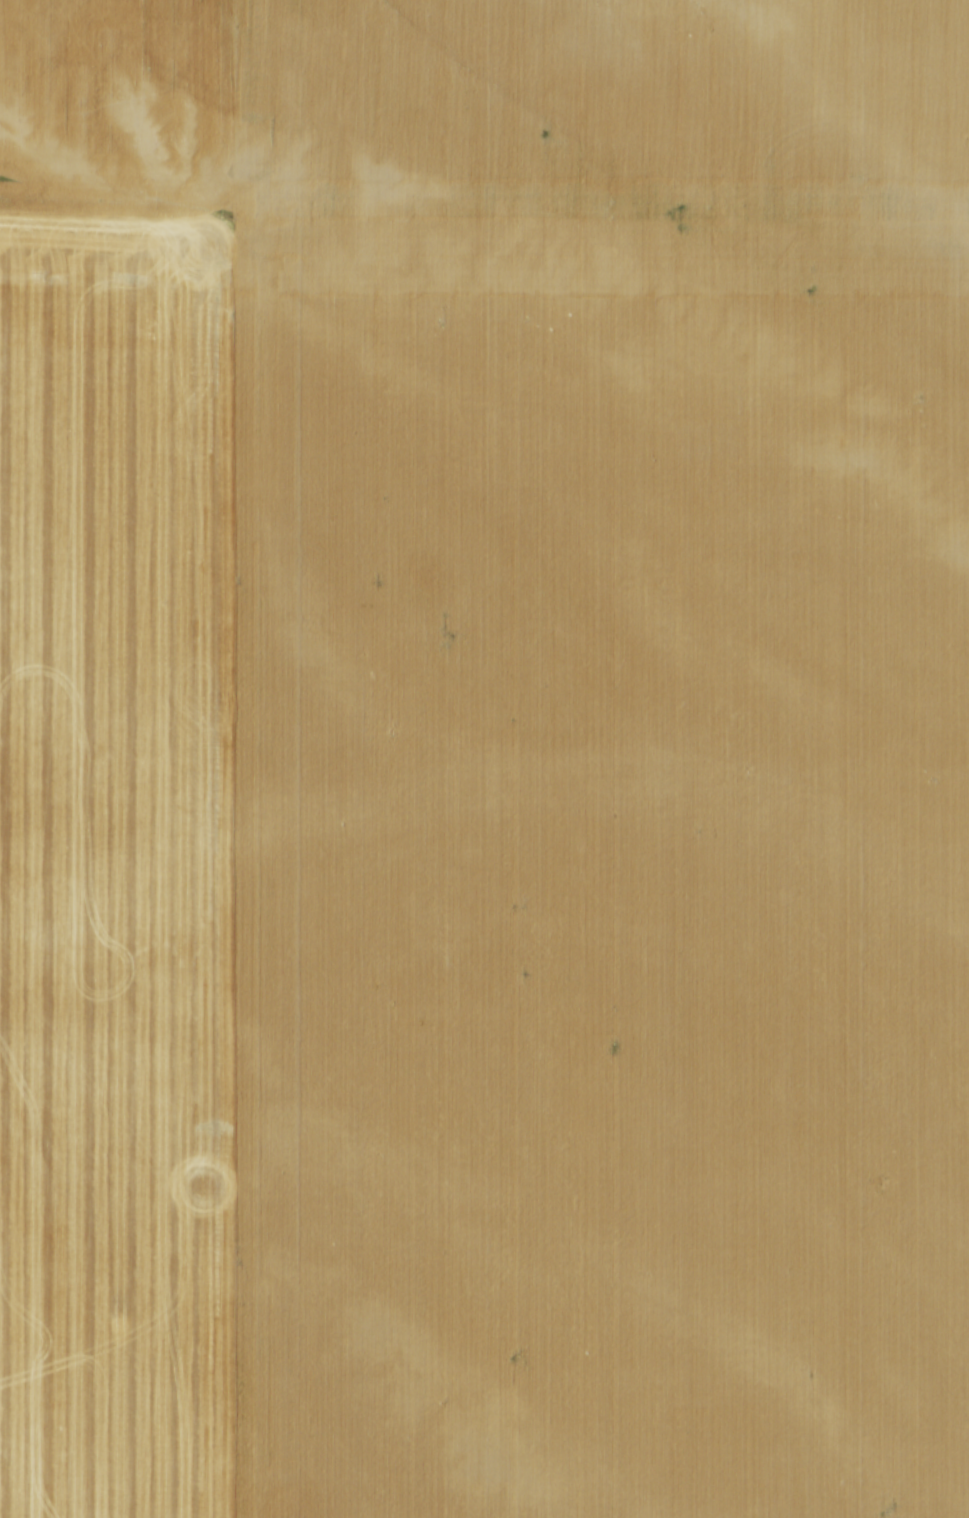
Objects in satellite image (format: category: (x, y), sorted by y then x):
crop: (484, 759)

